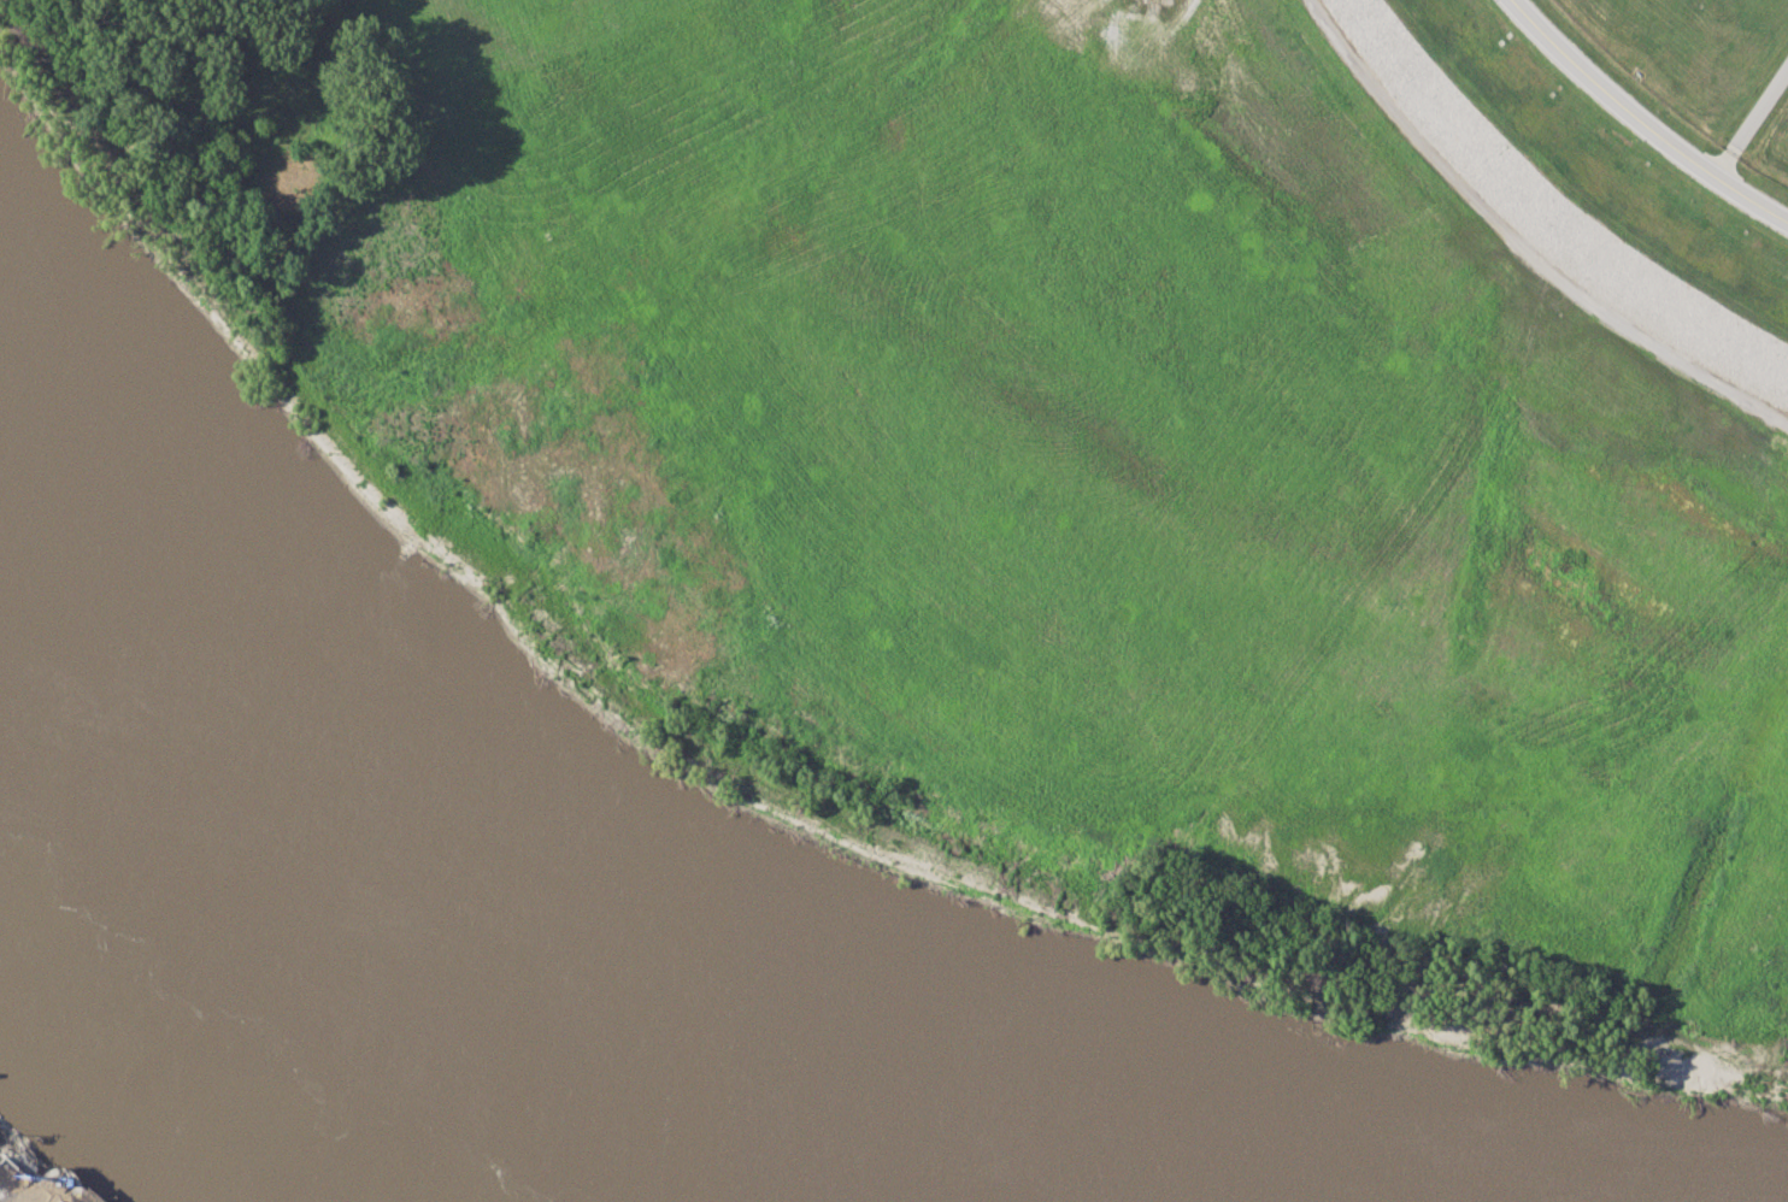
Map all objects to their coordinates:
airport: (1706, 65)
road: (1641, 120)
road: (1518, 247)
river: (341, 949)

